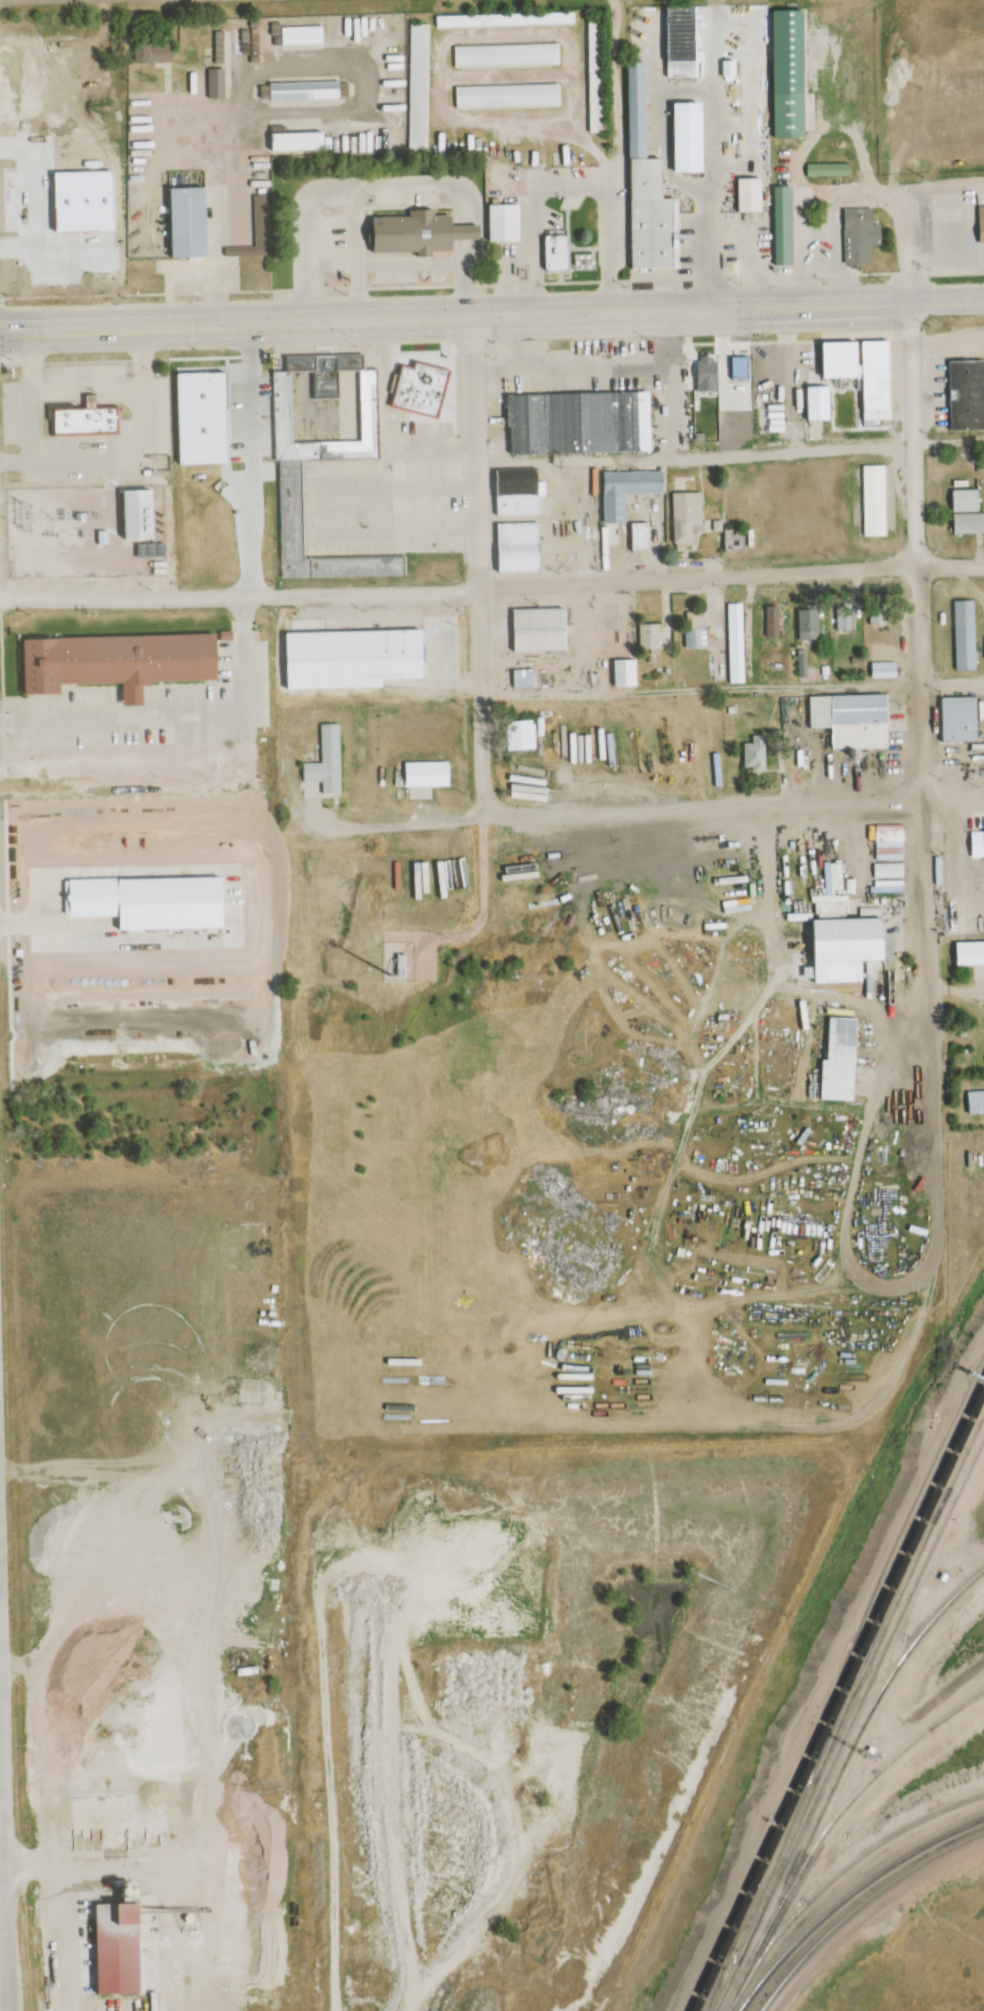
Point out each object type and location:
building: (505, 19)
building: (302, 34)
building: (683, 42)
building: (155, 51)
building: (506, 55)
building: (789, 73)
building: (597, 76)
building: (212, 83)
building: (418, 86)
building: (304, 90)
building: (507, 96)
building: (692, 137)
building: (299, 141)
building: (828, 169)
building: (649, 187)
road: (802, 193)
building: (751, 194)
building: (506, 221)
building: (190, 222)
building: (982, 222)
building: (784, 225)
building: (258, 230)
building: (422, 232)
building: (861, 235)
building: (556, 252)
road: (856, 297)
road: (364, 312)
street lamp: (62, 355)
building: (865, 371)
building: (708, 374)
building: (422, 389)
building: (966, 395)
building: (92, 401)
building: (724, 412)
building: (85, 421)
building: (580, 423)
road: (694, 454)
building: (181, 471)
building: (519, 491)
building: (626, 497)
building: (875, 500)
building: (967, 500)
building: (290, 508)
road: (916, 512)
building: (138, 515)
building: (688, 516)
power tower: (1, 517)
power tower: (26, 518)
building: (969, 522)
power substation: (84, 532)
building: (642, 537)
building: (735, 539)
building: (519, 547)
building: (263, 548)
road: (476, 564)
road: (969, 582)
road: (492, 589)
building: (696, 619)
building: (846, 619)
building: (773, 621)
building: (811, 624)
building: (542, 630)
building: (967, 635)
building: (651, 636)
building: (697, 638)
building: (737, 643)
building: (118, 660)
building: (885, 664)
building: (626, 673)
building: (524, 678)
road: (731, 688)
building: (137, 692)
building: (856, 719)
building: (963, 719)
building: (522, 735)
building: (757, 753)
building: (325, 759)
building: (427, 775)
road: (310, 810)
road: (654, 811)
building: (978, 845)
road: (927, 892)
building: (833, 903)
building: (853, 941)
building: (972, 953)
building: (845, 1040)
building: (977, 1100)
road: (882, 1274)
railway: (884, 1570)
railway: (887, 1584)
railway: (871, 1664)
railway: (844, 1703)
railway: (954, 1709)
railway: (833, 1774)
railway: (847, 1801)
road: (3, 1870)
railway: (841, 1871)
railway: (844, 1894)
railway: (744, 1903)
railway: (858, 1905)
railway: (730, 1946)

